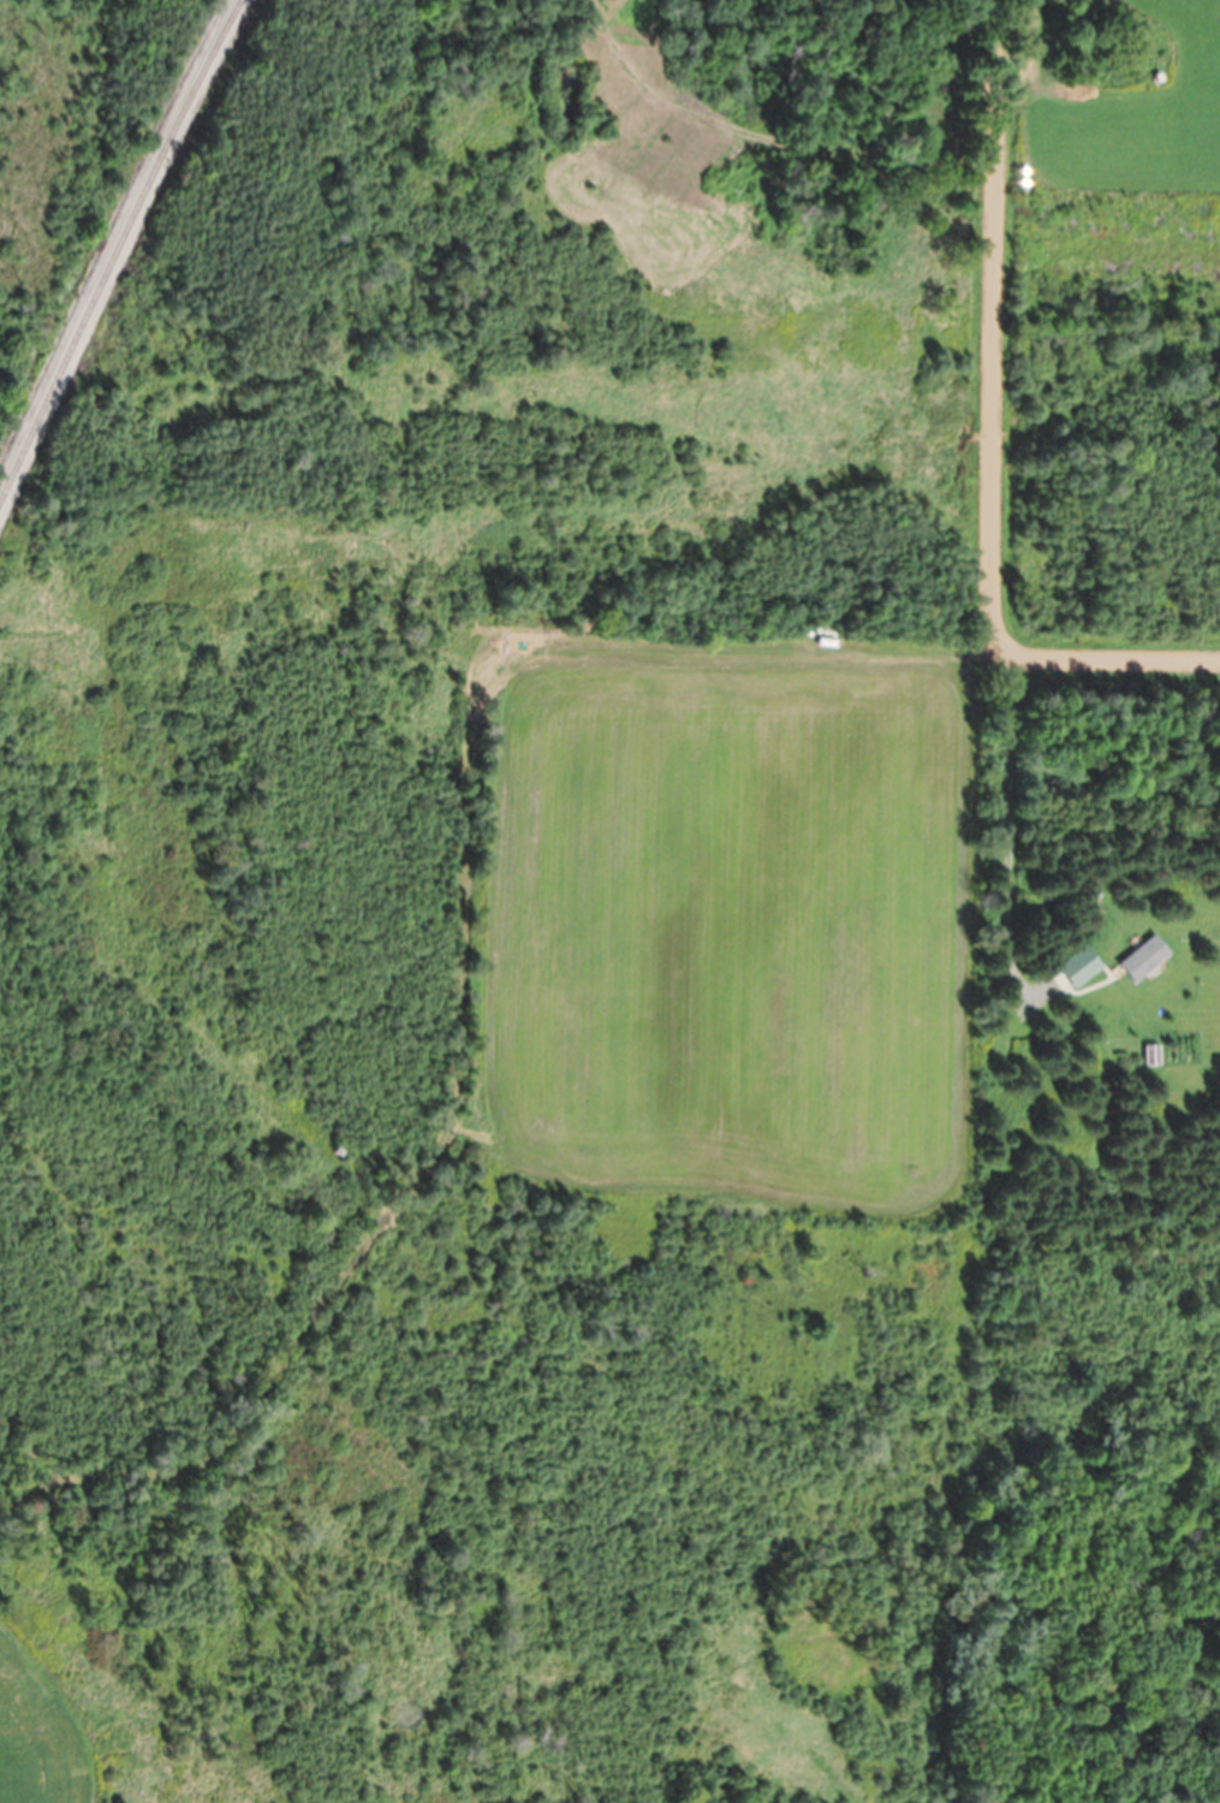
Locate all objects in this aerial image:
road: (761, 138)
railway: (115, 247)
road: (996, 502)
building: (1143, 957)

